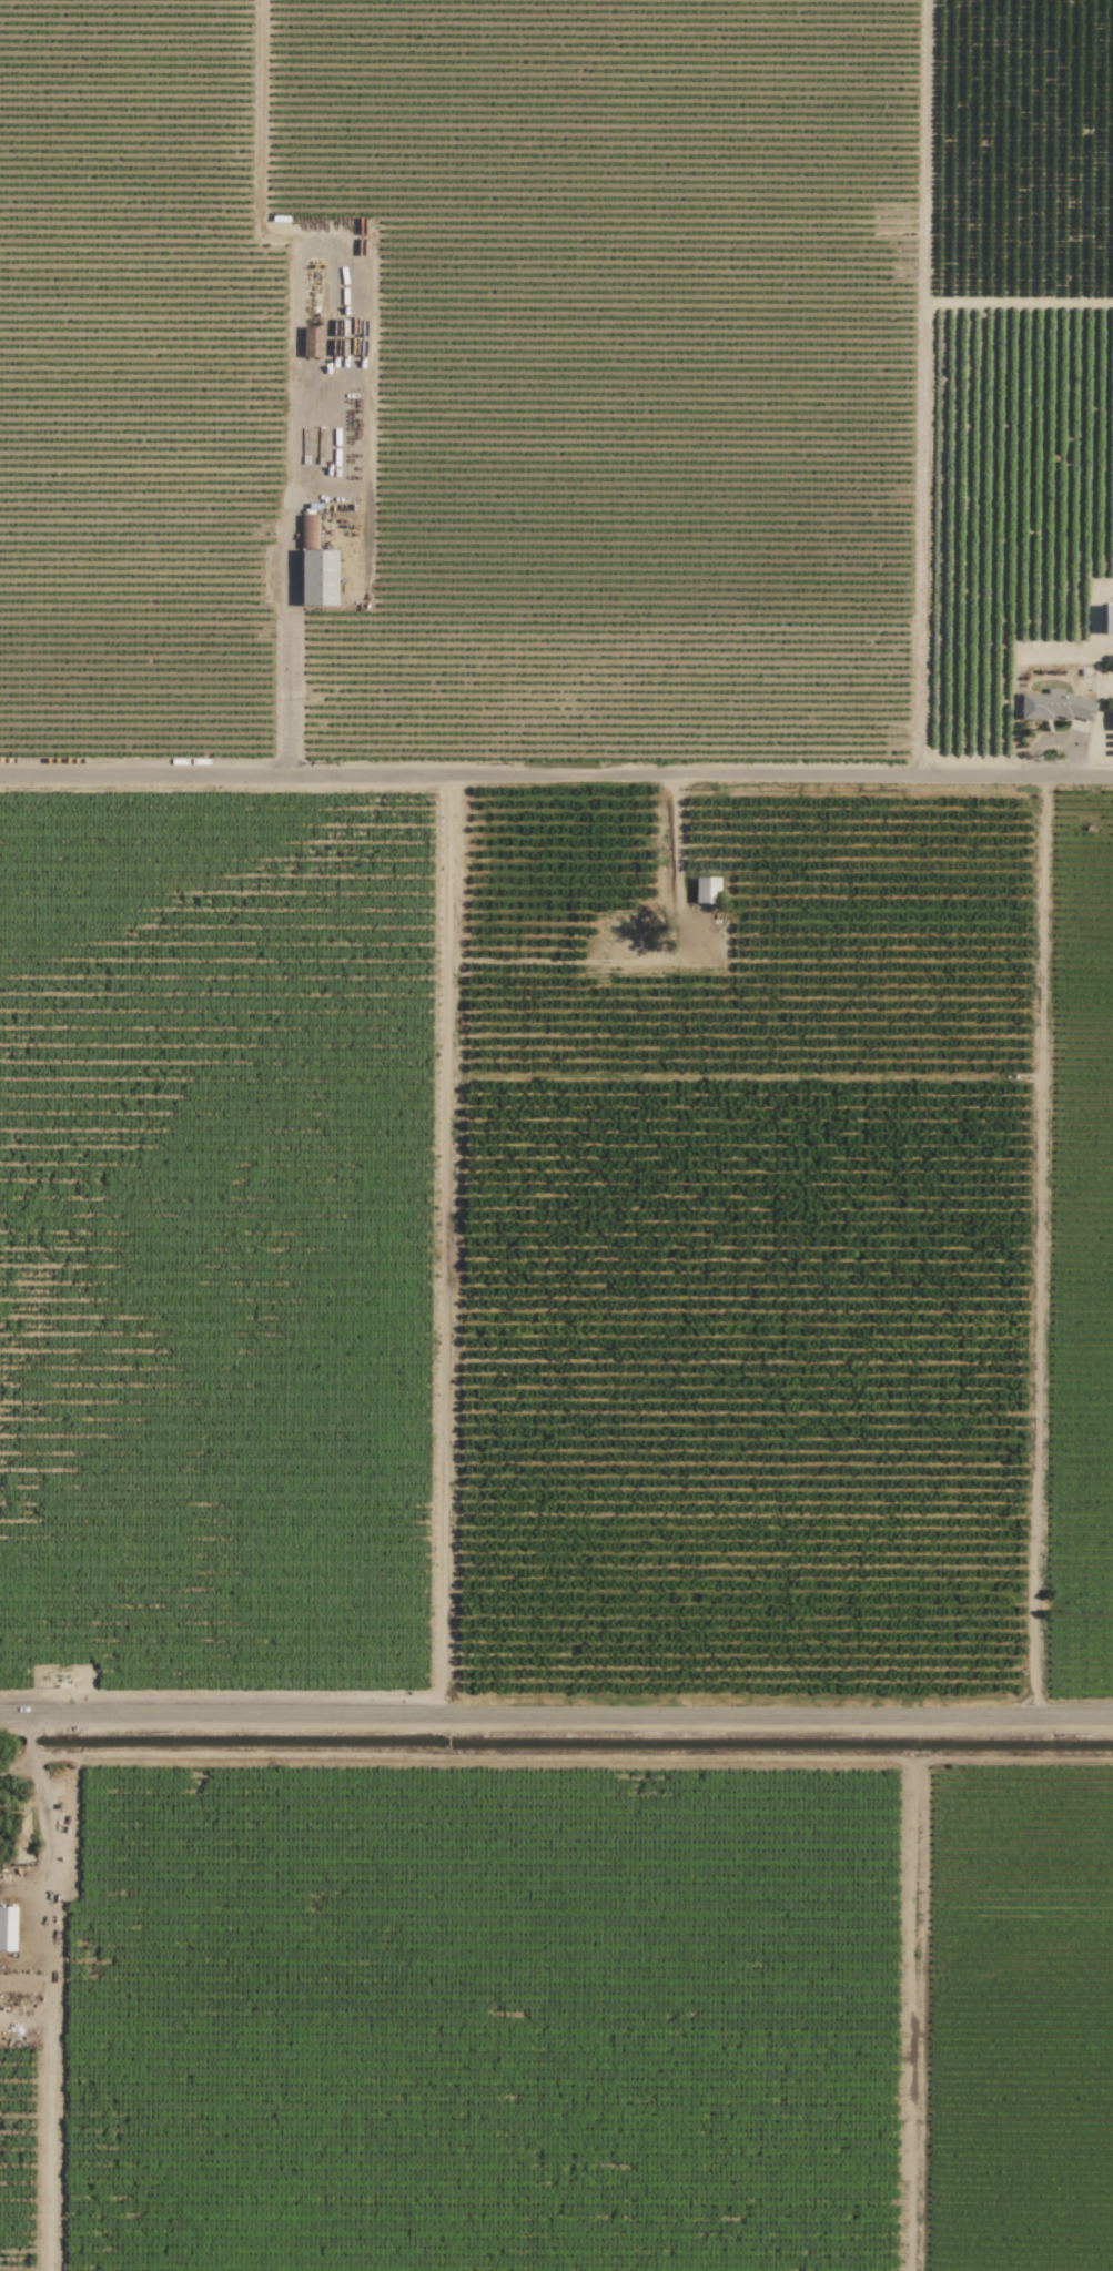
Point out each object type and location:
building: (311, 342)
building: (317, 577)
road: (285, 588)
building: (1107, 618)
building: (1054, 706)
building: (1112, 720)
road: (556, 784)
building: (707, 891)
road: (556, 1725)
building: (17, 1828)
building: (7, 1927)
building: (19, 1983)
road: (50, 1996)

